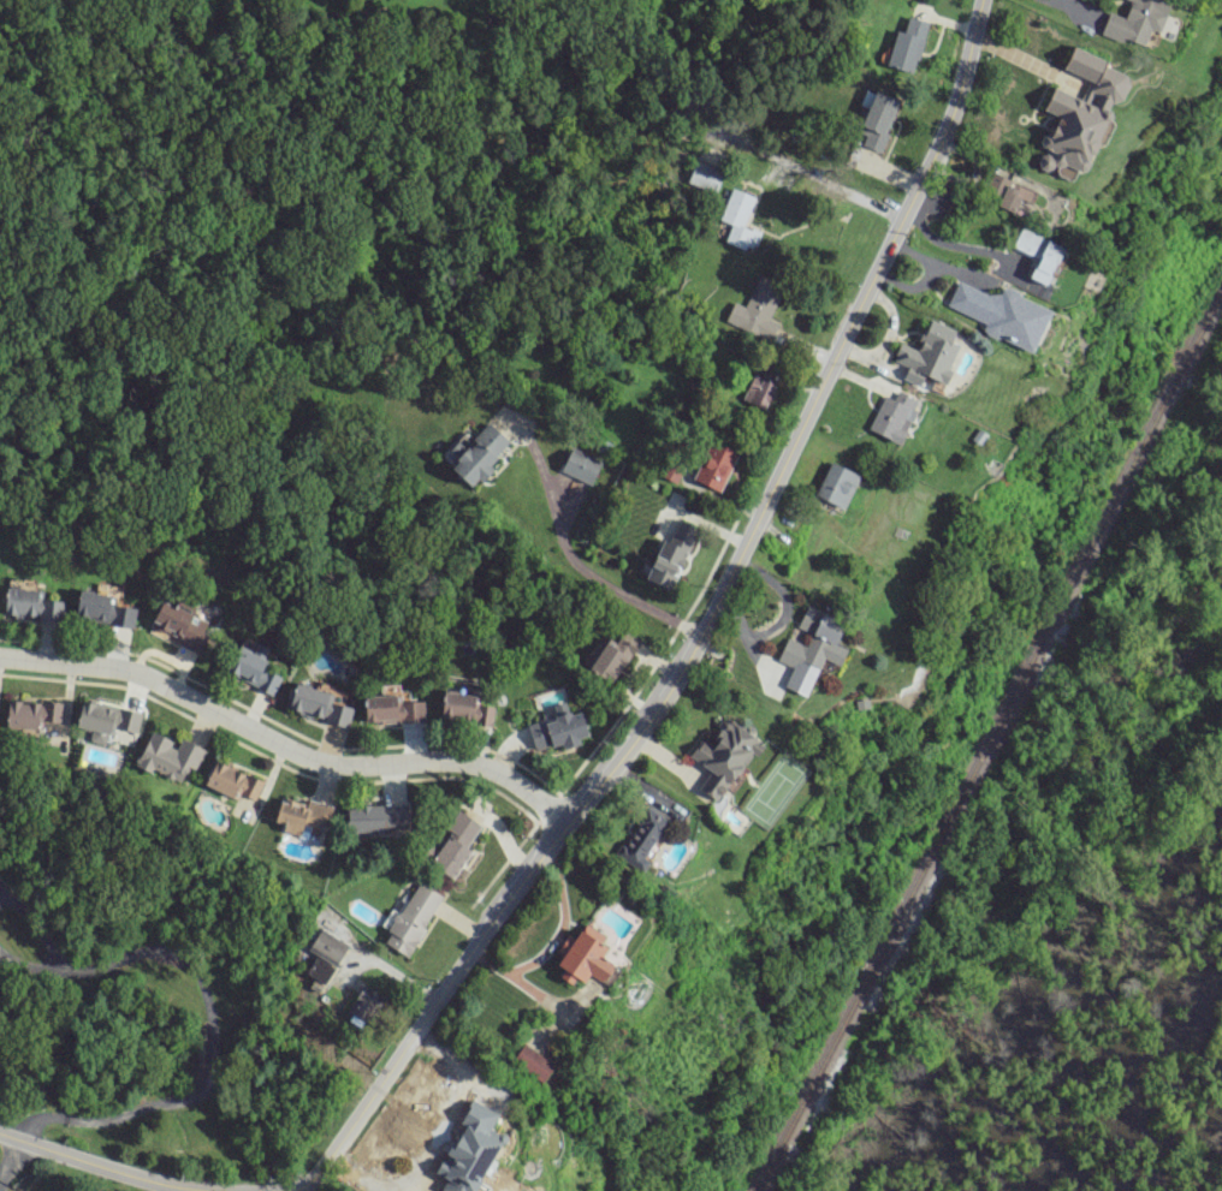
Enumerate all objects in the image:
road: (837, 190)
road: (953, 244)
road: (582, 574)
road: (783, 618)
road: (698, 639)
railway: (990, 739)
road: (285, 750)
park: (1064, 882)
road: (38, 927)
road: (551, 940)
road: (31, 961)
road: (207, 1052)
road: (453, 1107)
road: (10, 1157)
road: (107, 1167)
road: (349, 1175)
road: (308, 1186)

